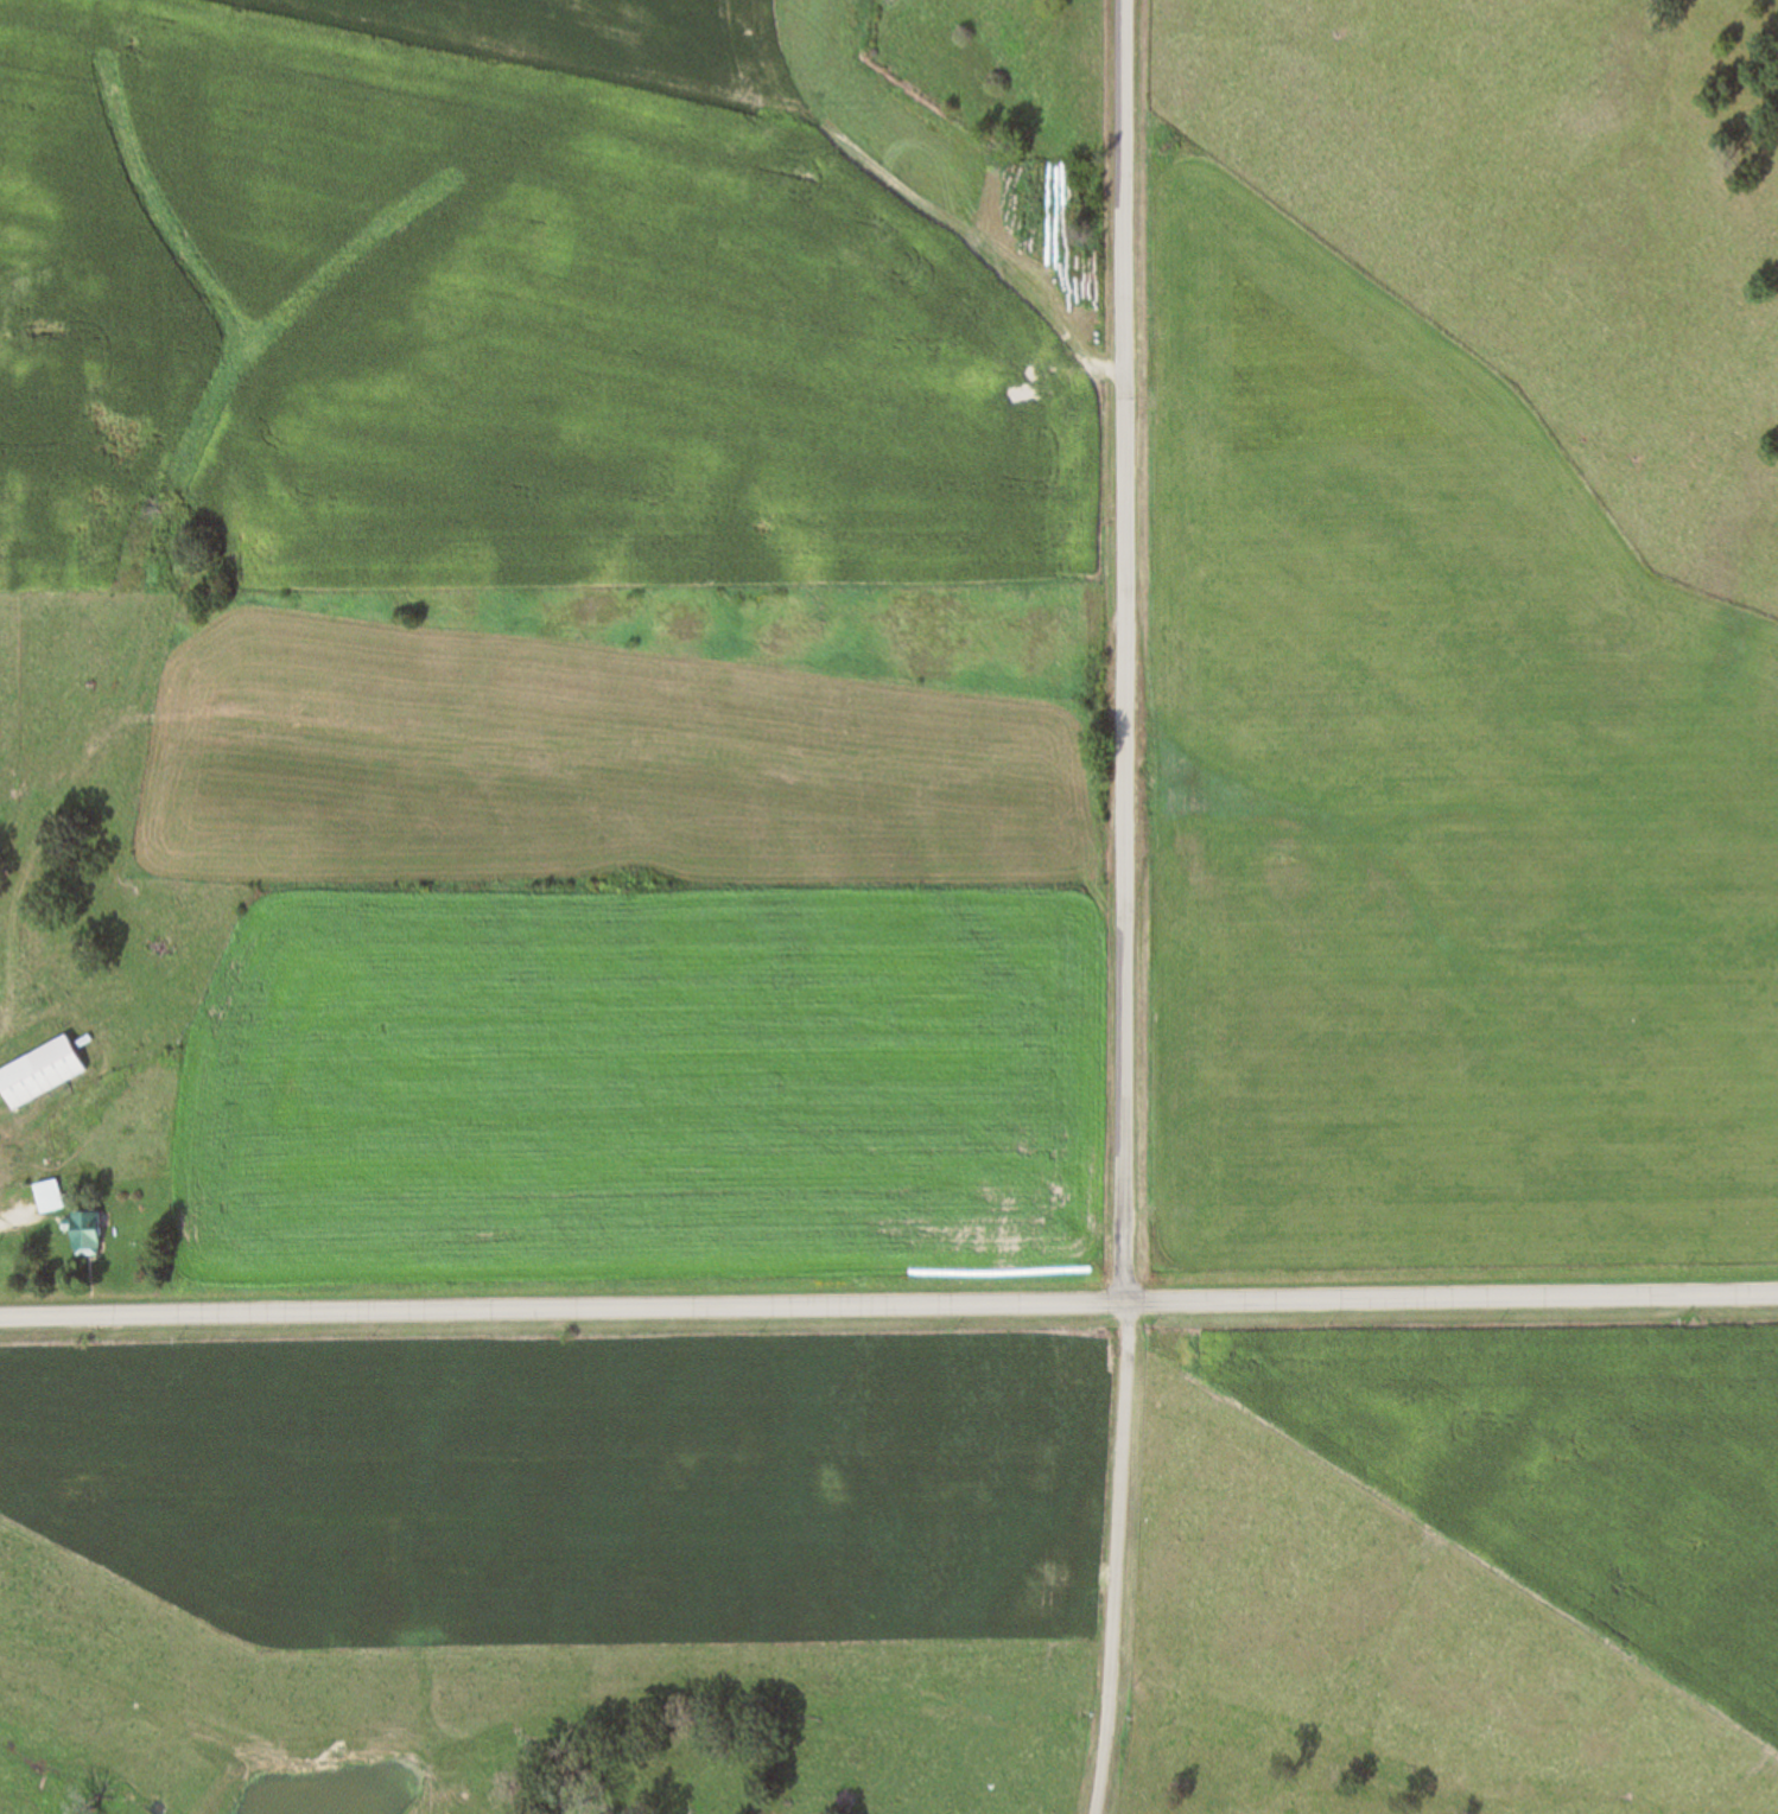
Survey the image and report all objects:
building: (23, 289)
road: (1123, 651)
building: (38, 1074)
building: (49, 1198)
building: (85, 1234)
road: (888, 1306)
road: (1112, 1559)

